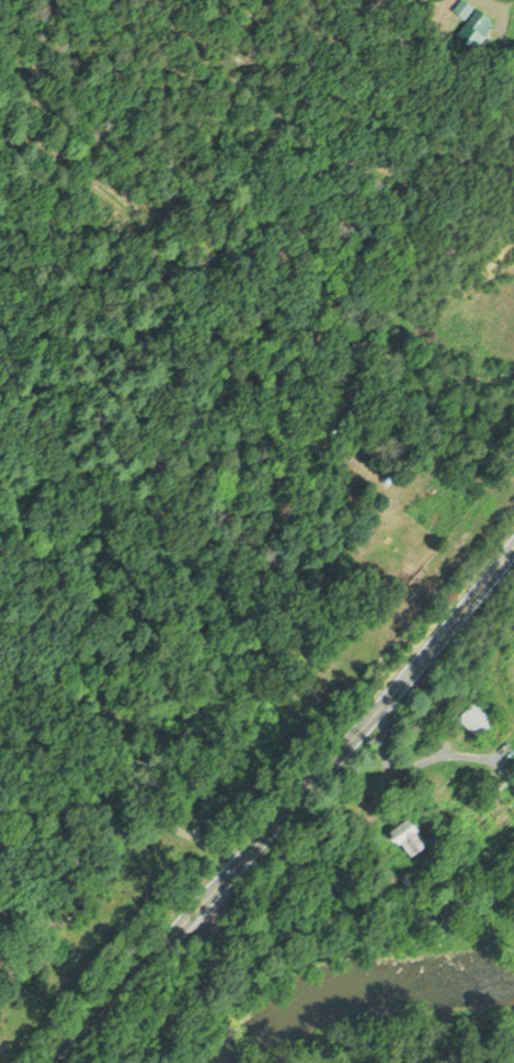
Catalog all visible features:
building: (477, 29)
building: (478, 720)
road: (294, 796)
road: (126, 817)
building: (411, 838)
river: (353, 981)

